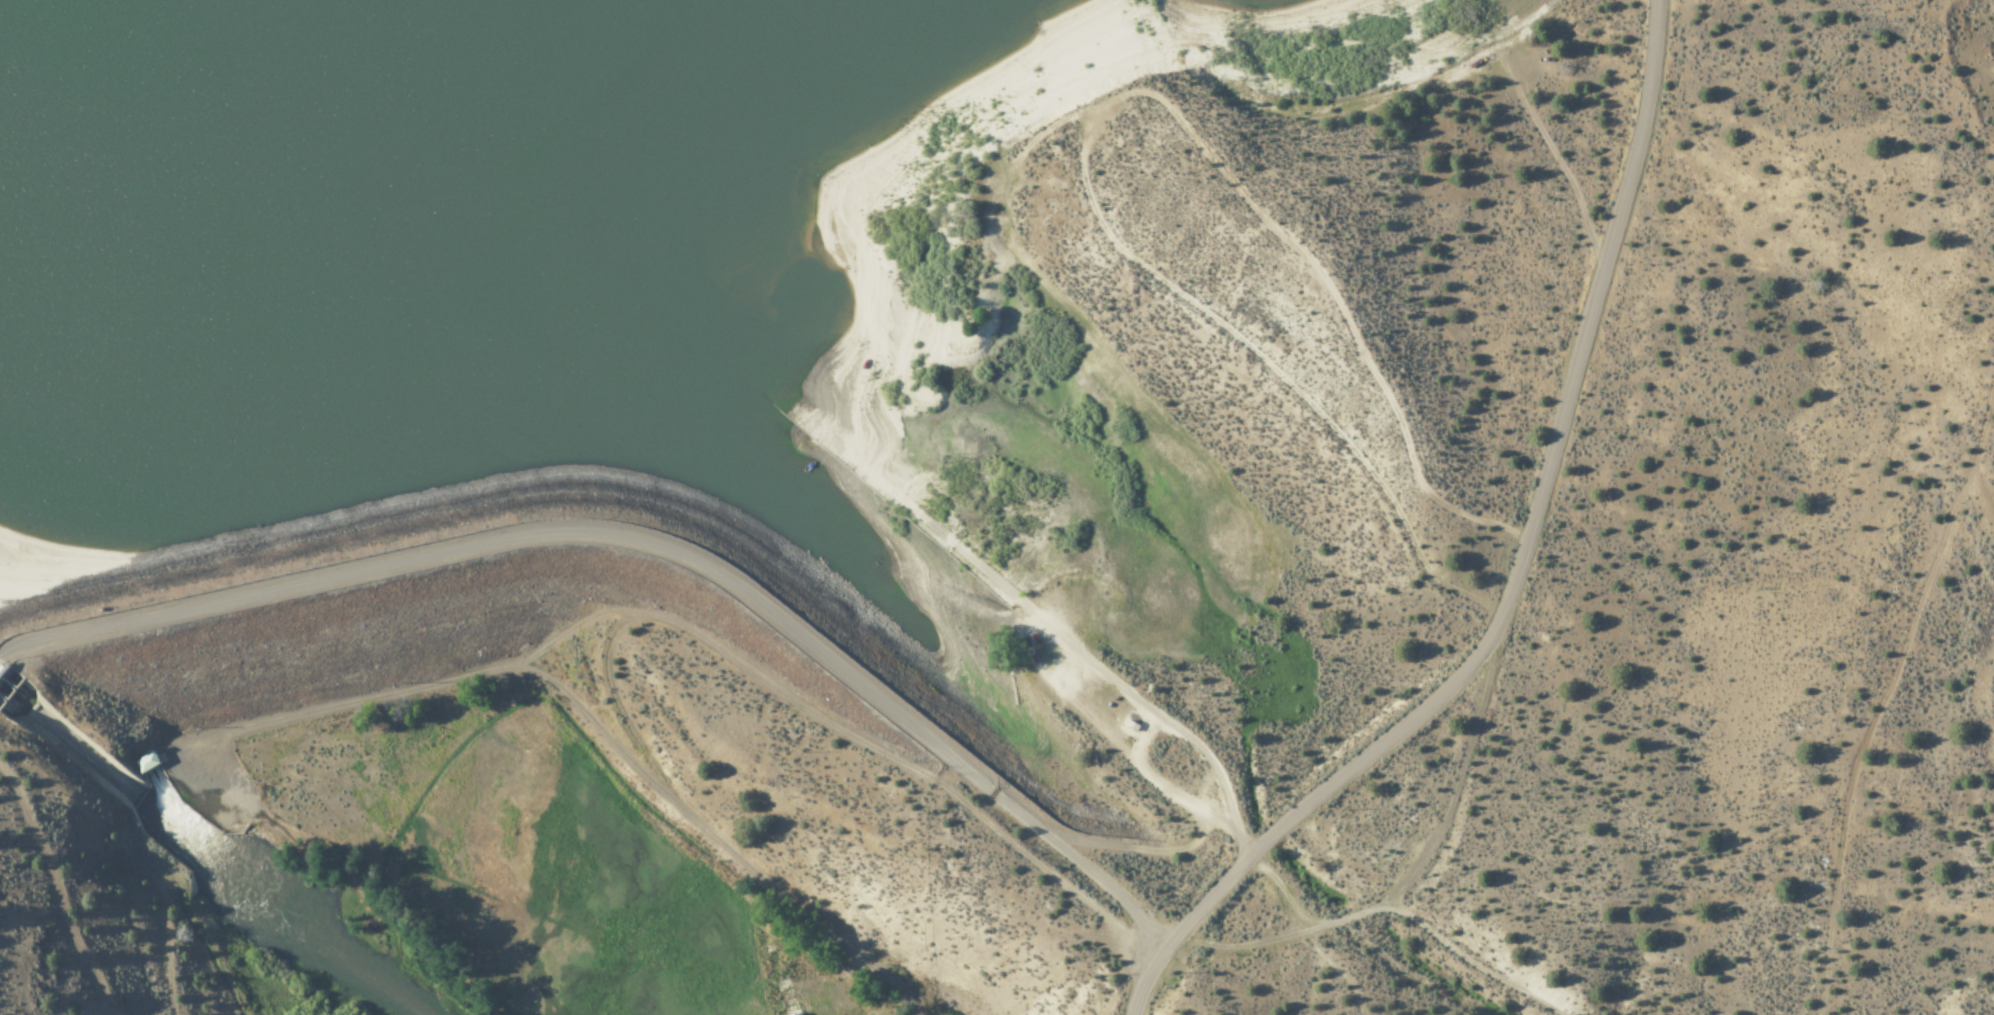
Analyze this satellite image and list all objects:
river: (135, 337)
road: (649, 544)
road: (1520, 575)
dam: (516, 651)
river: (1, 693)
building: (147, 762)
river: (223, 859)
road: (1406, 910)
building: (788, 997)

